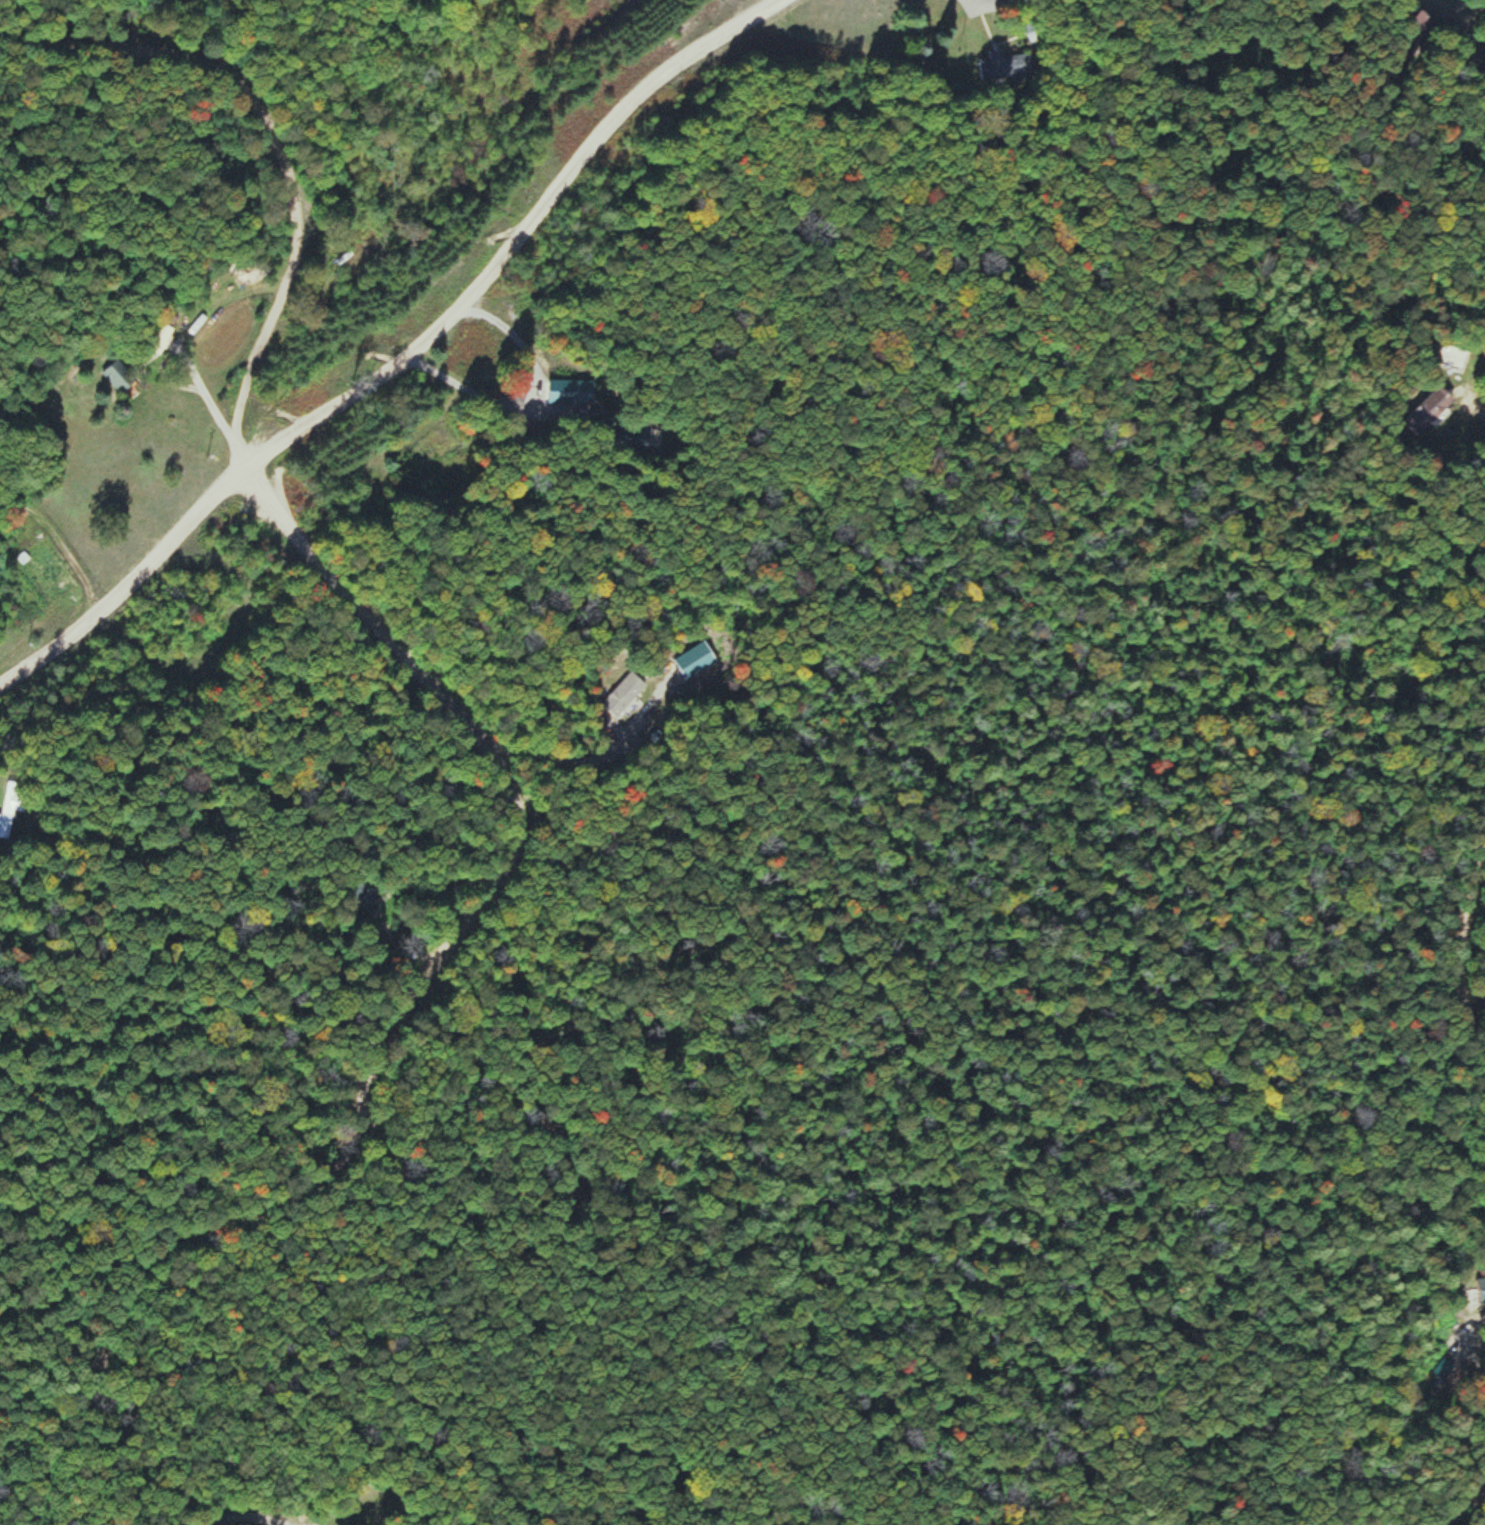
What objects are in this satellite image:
road: (208, 34)
building: (1003, 64)
road: (282, 145)
building: (157, 335)
road: (401, 356)
building: (1449, 357)
building: (118, 376)
building: (1427, 410)
building: (630, 435)
building: (621, 694)
building: (11, 805)
building: (364, 894)
road: (1463, 949)
road: (430, 1021)
building: (1480, 1288)

